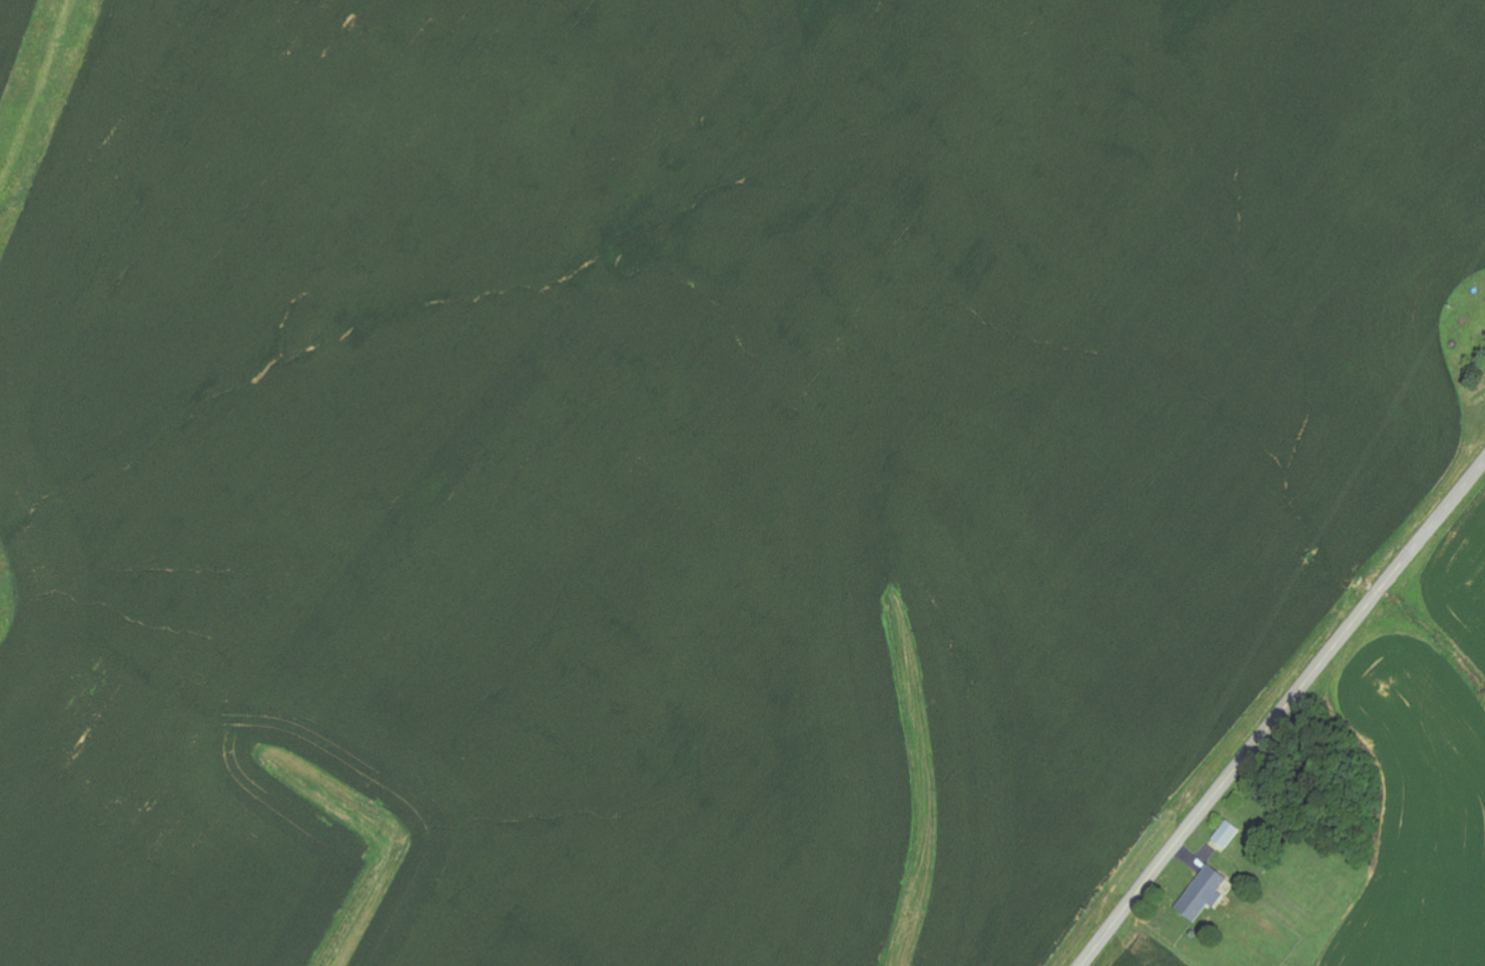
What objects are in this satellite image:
road: (1281, 712)
building: (1228, 835)
building: (1204, 894)

